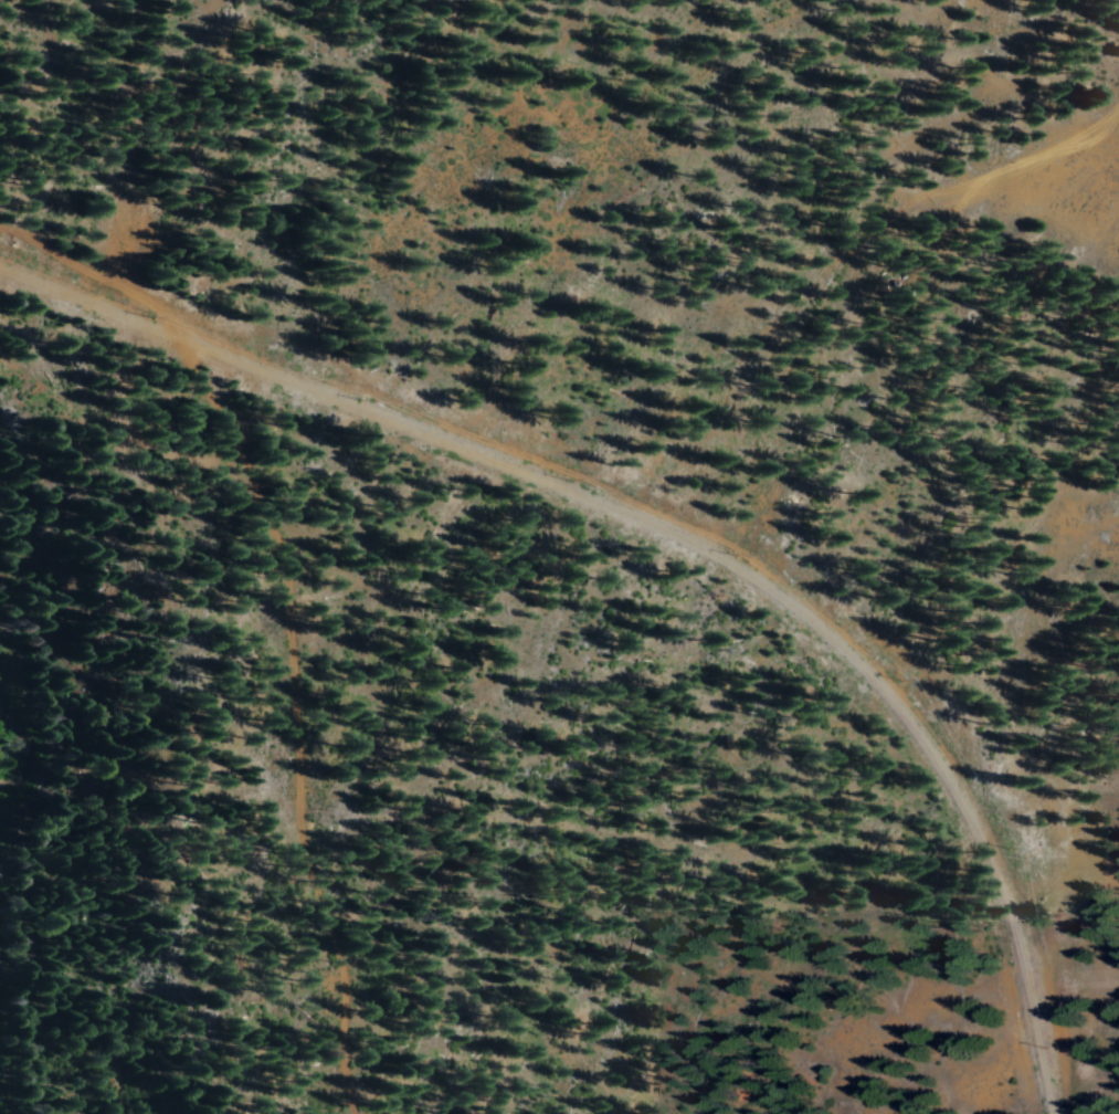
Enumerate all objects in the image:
railway: (675, 533)

